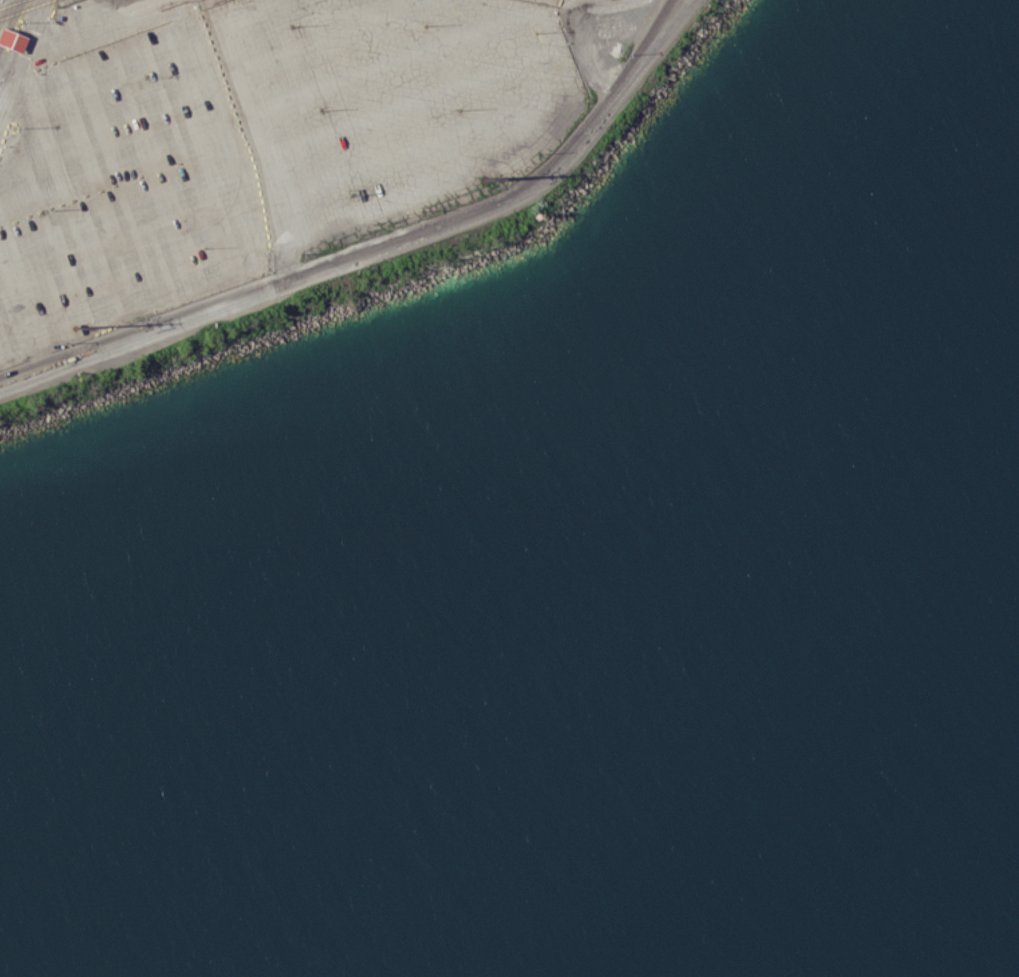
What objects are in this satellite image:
railway: (9, 3)
railway: (25, 8)
road: (7, 19)
road: (20, 50)
road: (7, 59)
road: (452, 225)
road: (66, 351)
road: (69, 367)

